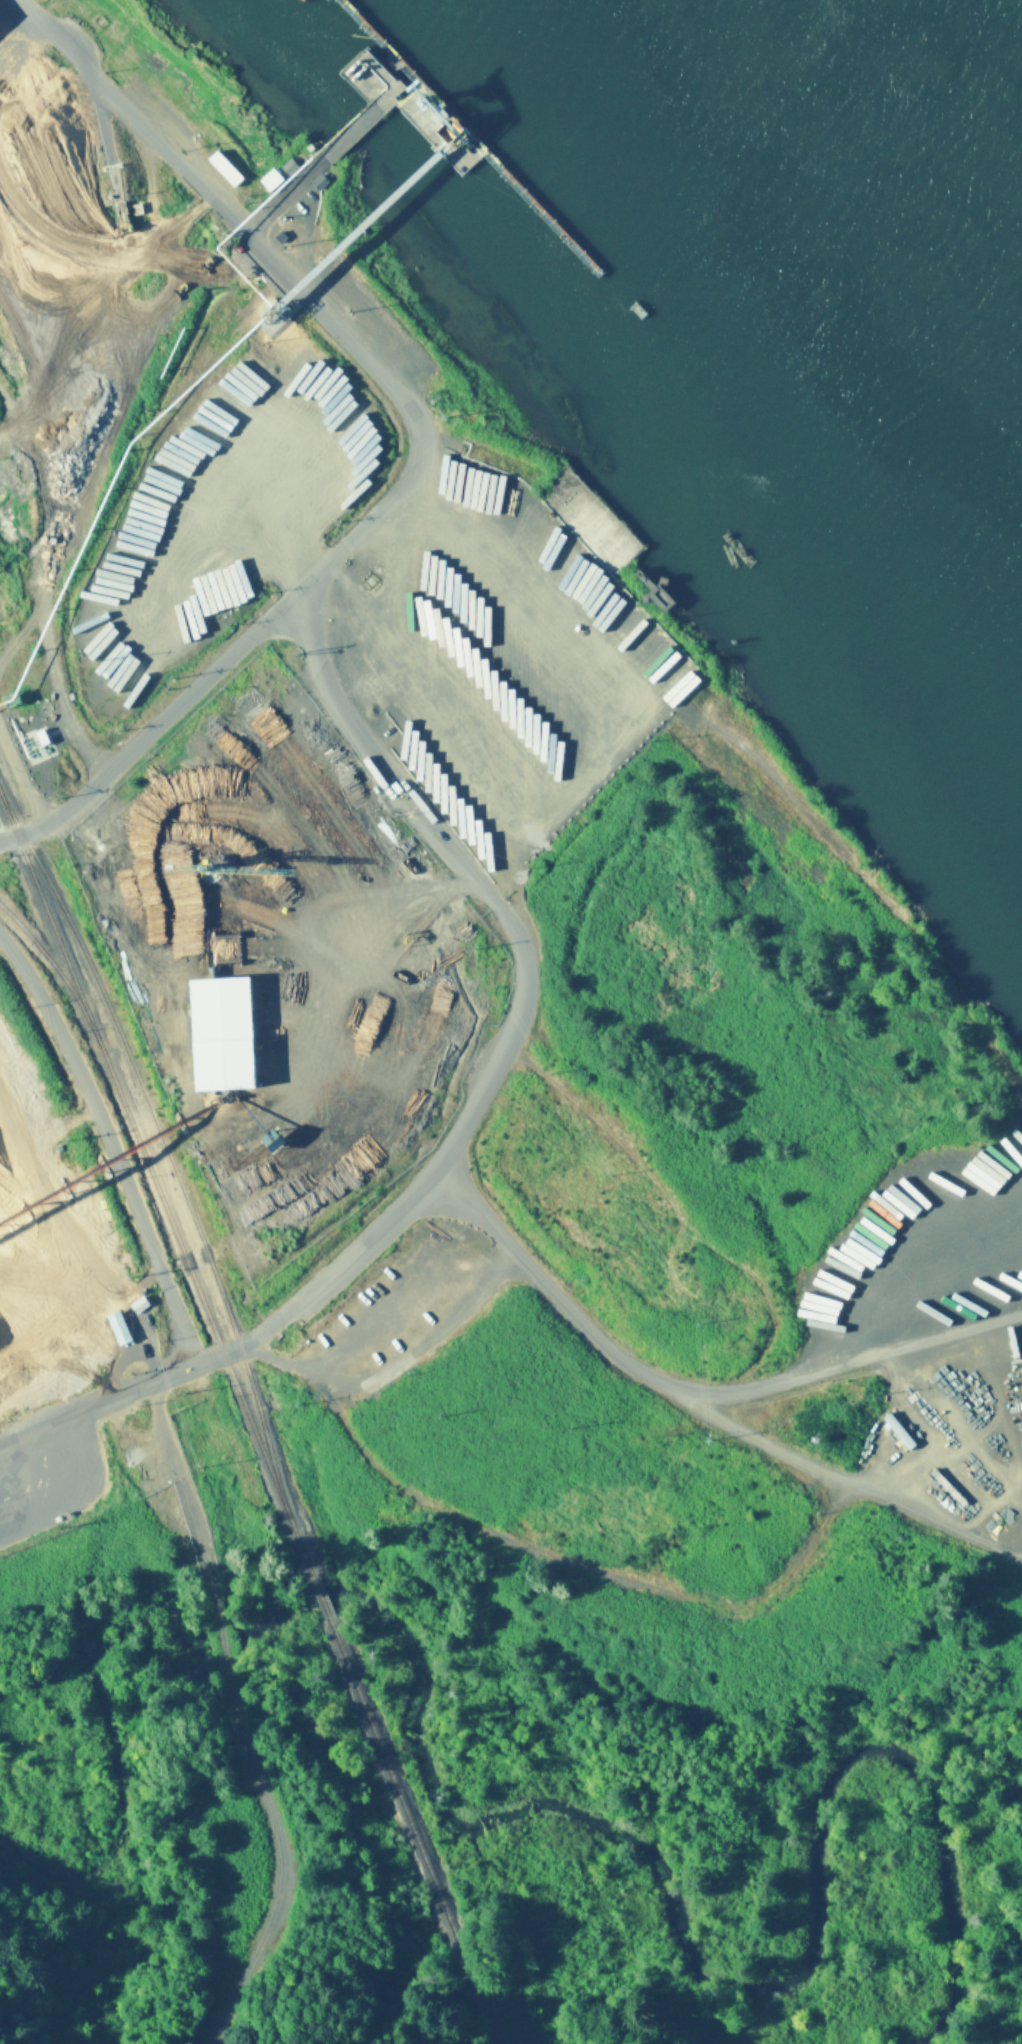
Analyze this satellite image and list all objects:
building: (0, 21)
building: (228, 170)
building: (273, 181)
building: (134, 684)
building: (169, 775)
railway: (56, 984)
railway: (150, 1122)
railway: (161, 1200)
road: (158, 1255)
building: (121, 1330)
railway: (322, 1611)
railway: (409, 1833)

